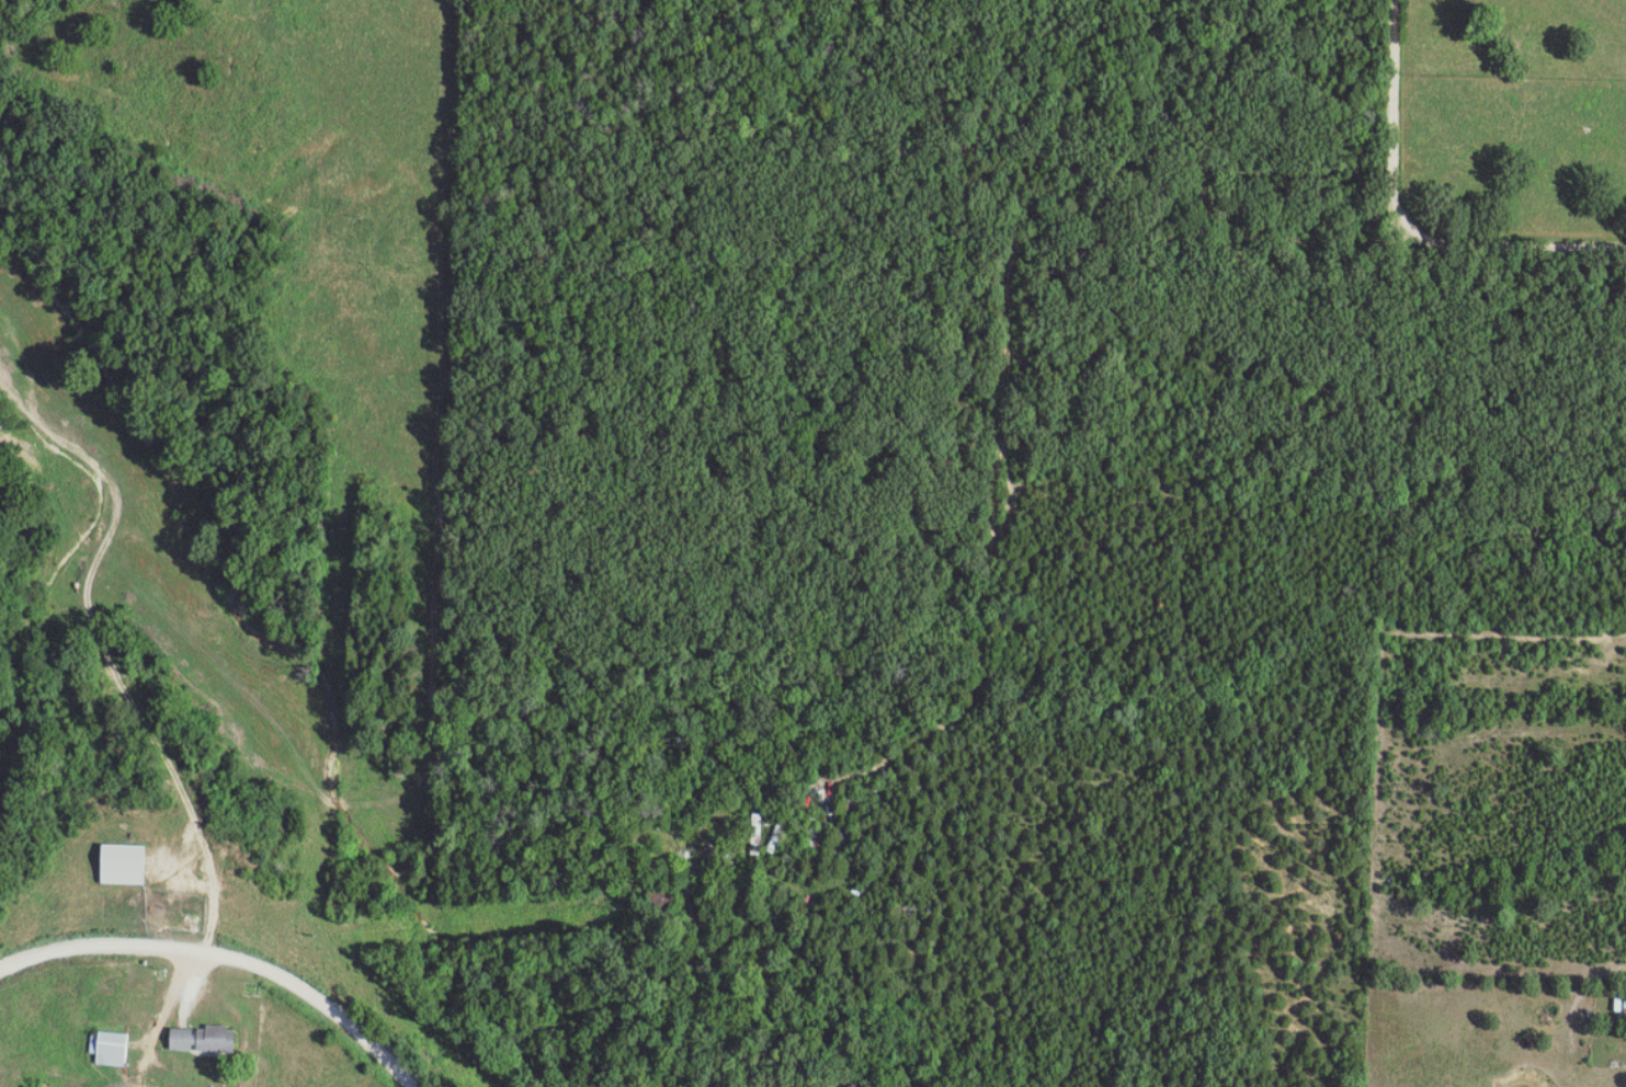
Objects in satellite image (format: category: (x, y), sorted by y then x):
road: (1410, 221)
building: (2, 425)
road: (106, 467)
road: (992, 558)
building: (130, 863)
road: (226, 954)
building: (1621, 1005)
building: (207, 1039)
building: (114, 1046)

